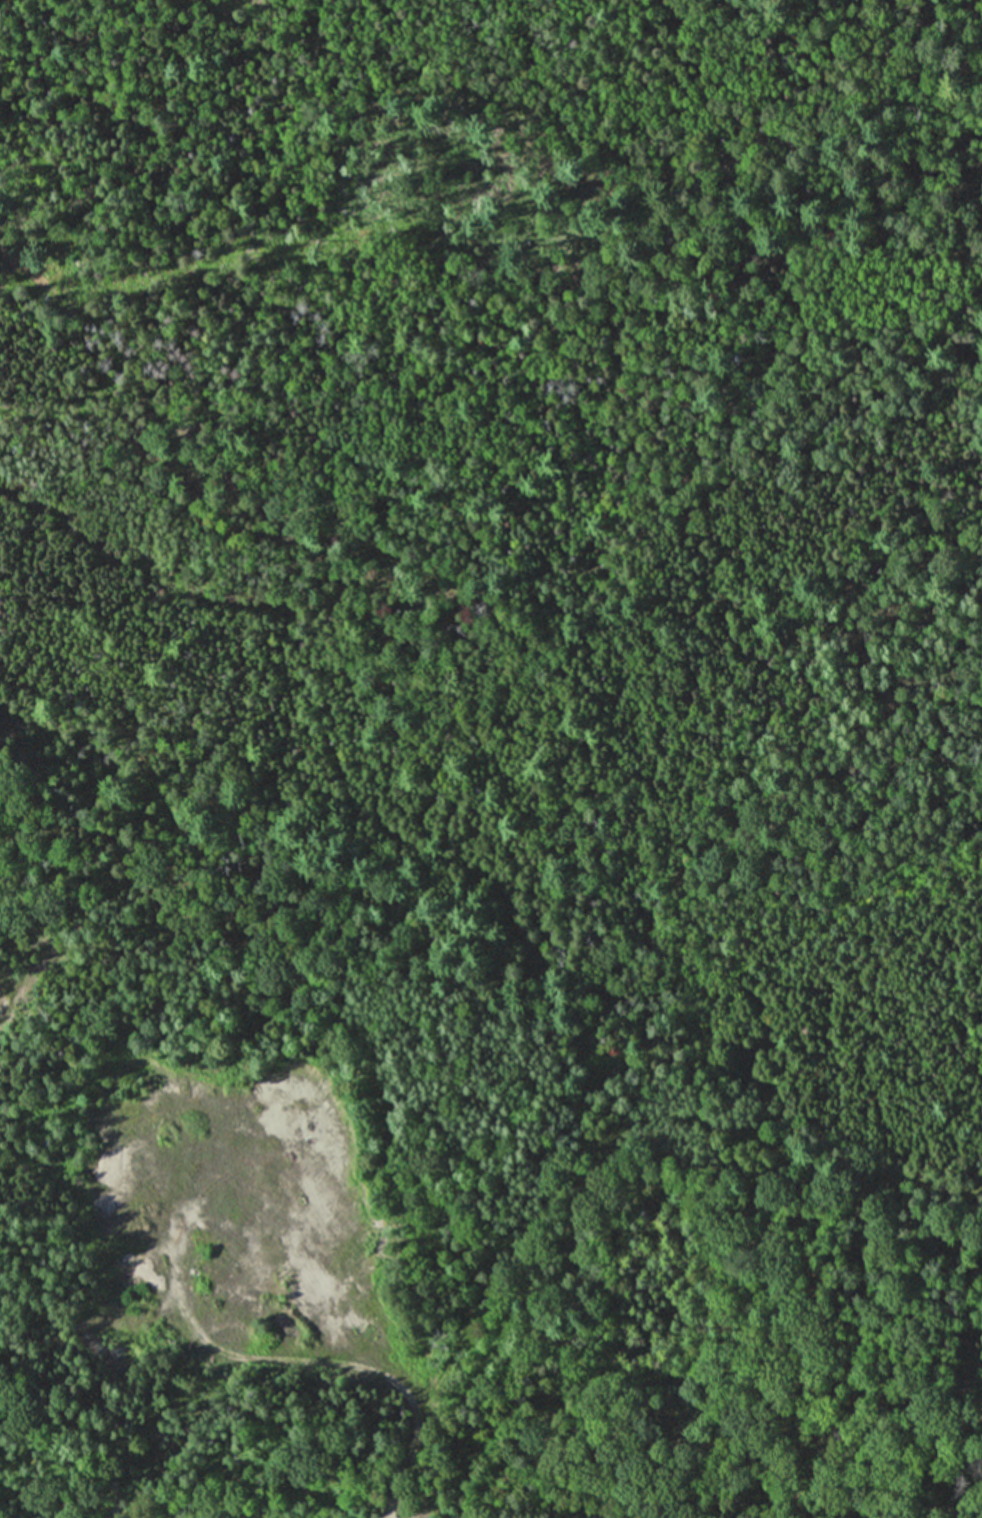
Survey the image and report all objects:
road: (324, 1365)

